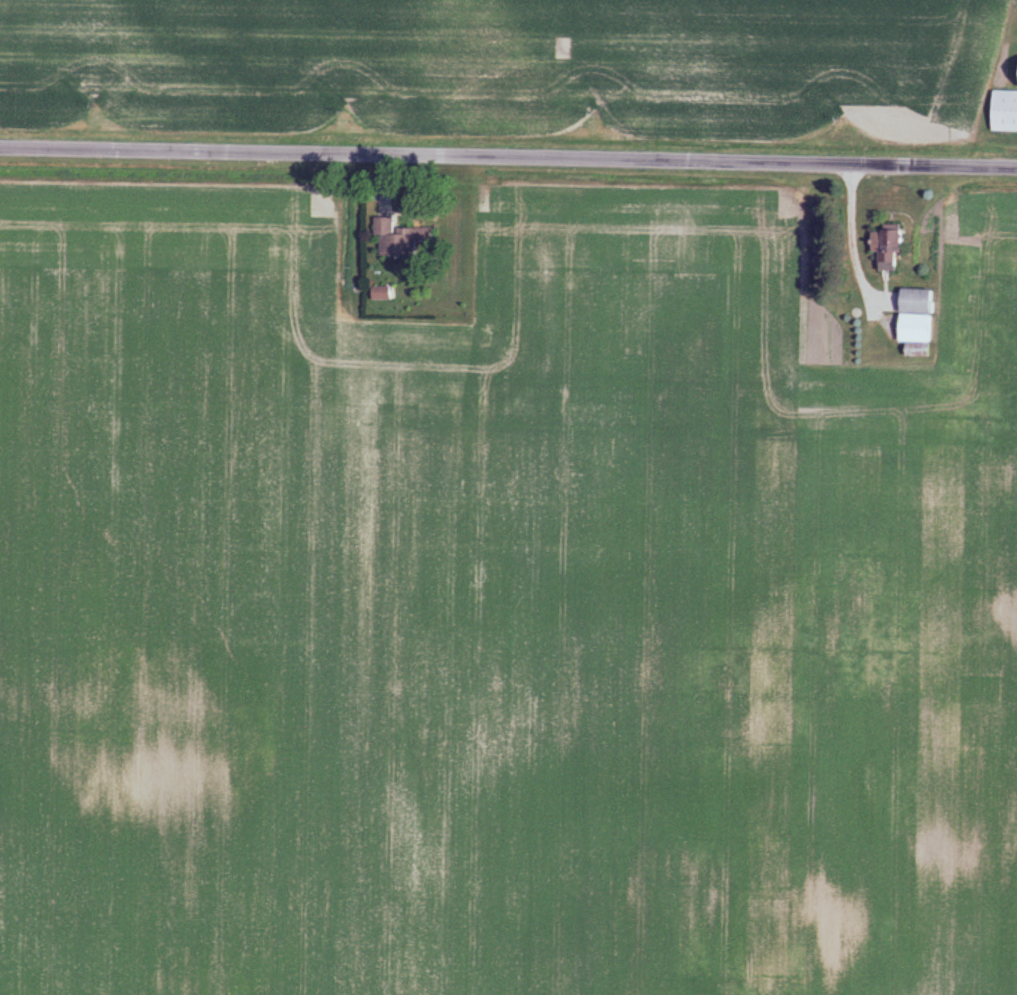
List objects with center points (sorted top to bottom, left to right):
building: (1014, 74)
building: (1002, 111)
road: (508, 158)
building: (405, 240)
building: (882, 250)
building: (384, 294)
building: (913, 316)

